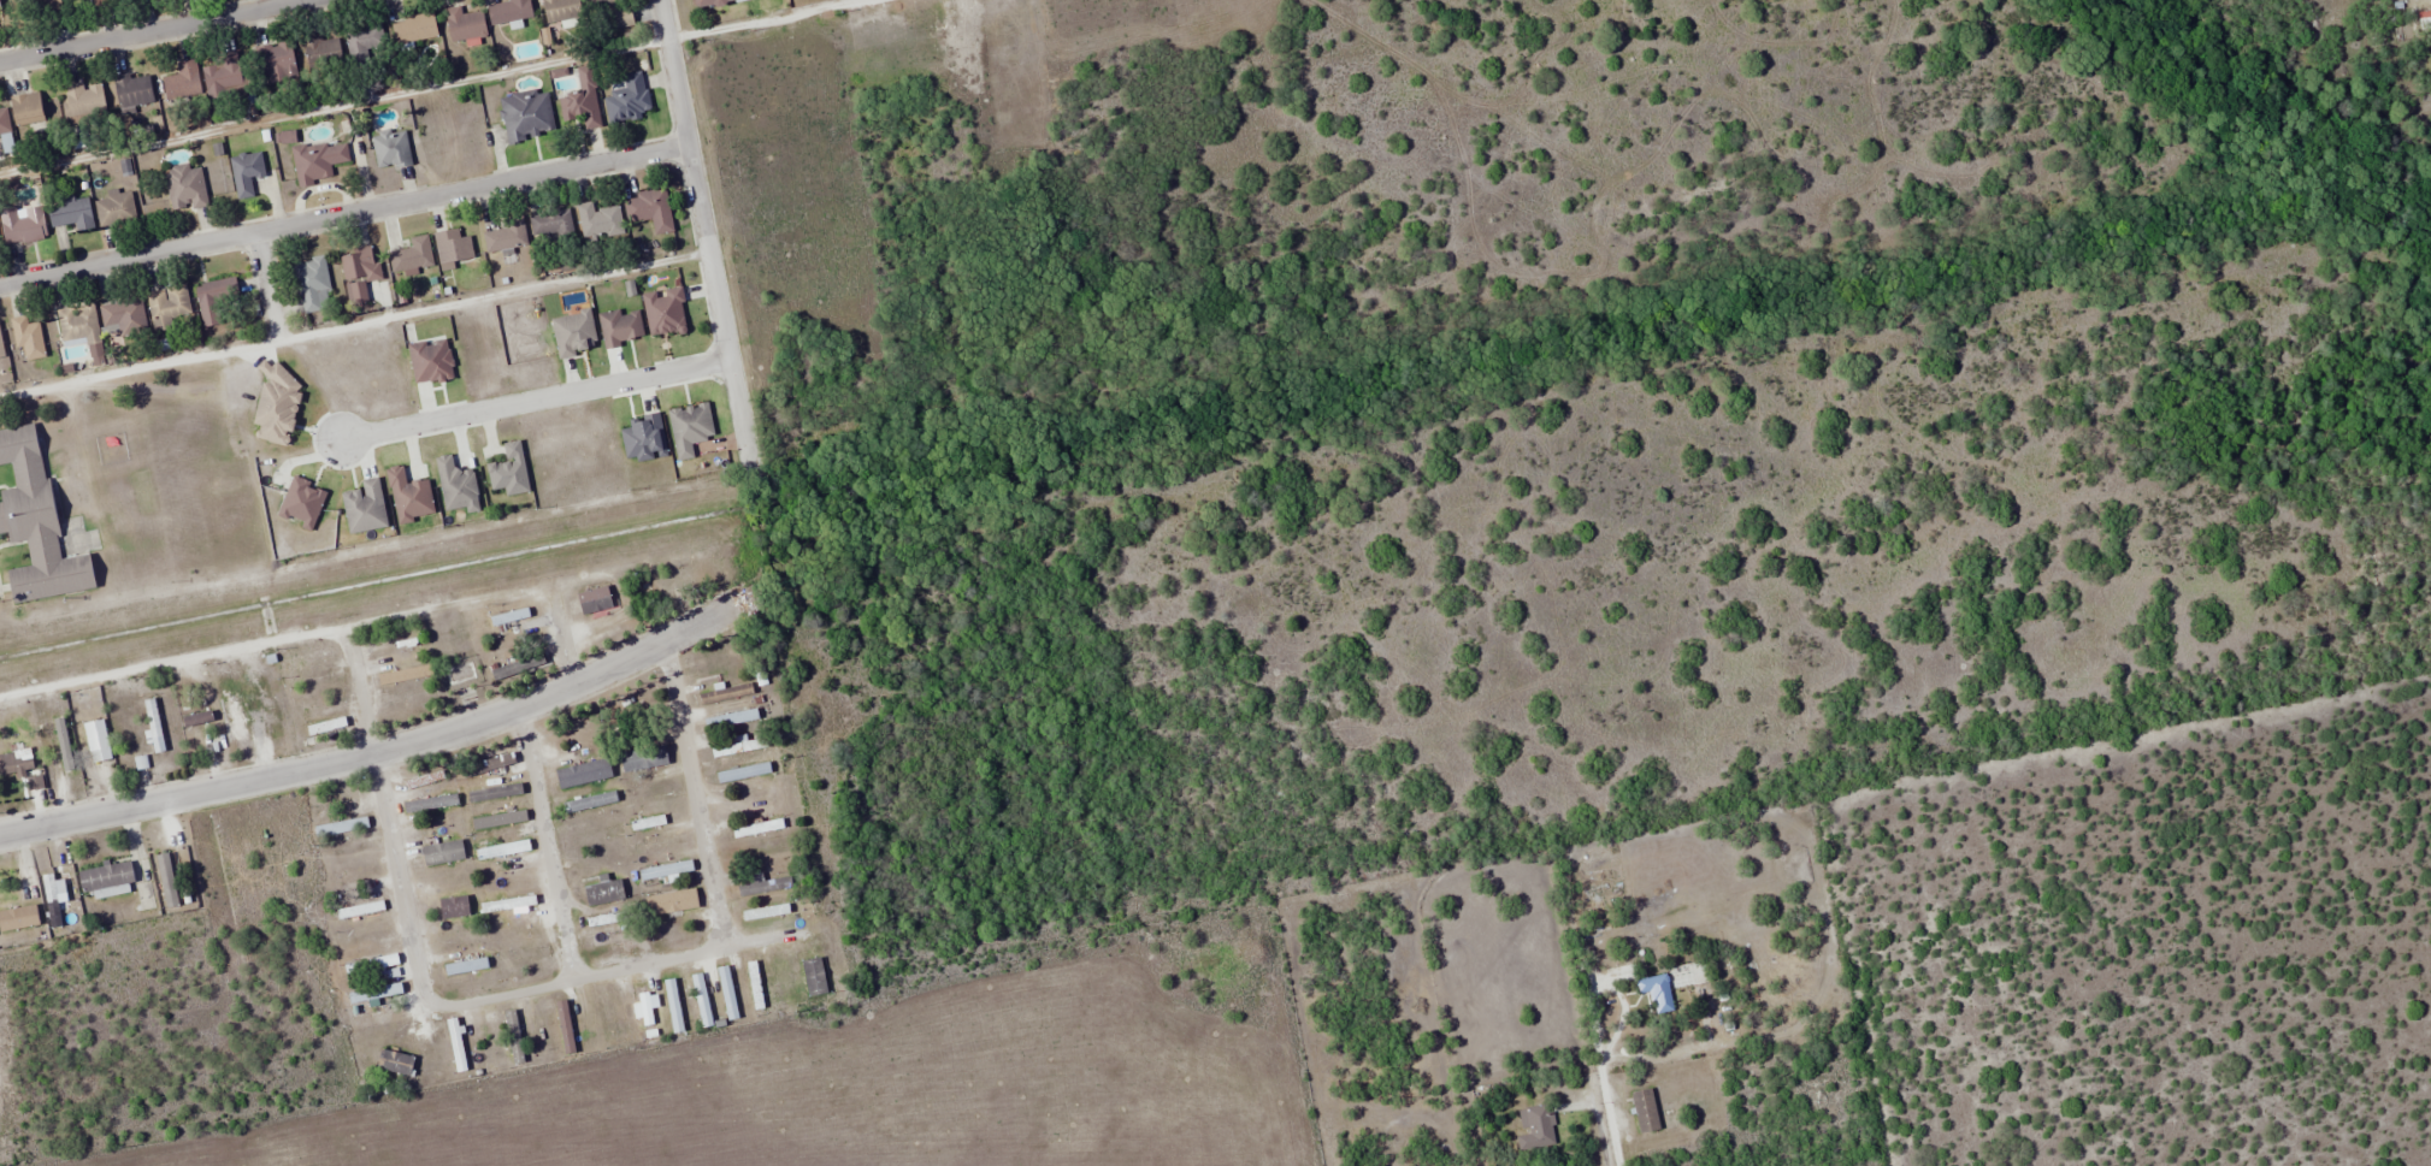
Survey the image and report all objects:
building: (118, 0)
building: (100, 2)
road: (284, 2)
building: (713, 2)
building: (47, 8)
building: (561, 10)
building: (508, 11)
building: (613, 17)
building: (464, 24)
building: (414, 29)
road: (154, 30)
building: (362, 43)
building: (323, 53)
building: (276, 63)
building: (220, 78)
building: (183, 82)
building: (132, 91)
building: (582, 100)
building: (629, 100)
building: (83, 103)
building: (26, 108)
building: (526, 116)
building: (4, 120)
building: (391, 148)
building: (318, 161)
building: (246, 173)
building: (185, 188)
building: (116, 208)
road: (343, 209)
building: (650, 209)
building: (72, 214)
building: (598, 221)
building: (23, 224)
building: (551, 224)
road: (703, 230)
building: (506, 237)
building: (453, 248)
building: (412, 256)
building: (356, 264)
road: (262, 278)
building: (312, 285)
building: (214, 300)
building: (169, 307)
building: (665, 312)
building: (123, 319)
building: (78, 324)
building: (28, 338)
building: (1, 349)
road: (533, 399)
building: (302, 503)
building: (36, 525)
building: (668, 580)
building: (594, 599)
building: (509, 615)
road: (564, 639)
building: (315, 659)
building: (407, 674)
building: (318, 691)
building: (725, 693)
building: (409, 700)
building: (270, 714)
building: (199, 717)
building: (731, 718)
building: (153, 724)
building: (60, 744)
building: (95, 747)
road: (388, 750)
building: (644, 758)
building: (16, 762)
building: (489, 763)
building: (583, 773)
building: (743, 773)
building: (33, 782)
building: (495, 793)
road: (694, 794)
building: (590, 801)
building: (430, 804)
building: (497, 819)
building: (341, 827)
building: (756, 828)
building: (435, 830)
building: (596, 834)
road: (545, 842)
building: (665, 842)
building: (503, 850)
building: (666, 869)
building: (107, 877)
building: (762, 886)
building: (165, 888)
building: (603, 892)
building: (53, 898)
building: (672, 901)
building: (508, 904)
building: (454, 907)
building: (360, 908)
building: (769, 911)
building: (19, 918)
building: (366, 936)
building: (627, 939)
building: (371, 964)
building: (814, 976)
building: (783, 982)
building: (374, 992)
building: (1656, 992)
building: (727, 993)
building: (702, 1000)
road: (430, 1004)
building: (673, 1005)
building: (645, 1008)
building: (619, 1016)
road: (1619, 1016)
building: (382, 1018)
building: (565, 1026)
building: (456, 1044)
building: (488, 1046)
road: (1680, 1055)
road: (1601, 1067)
building: (1646, 1111)
road: (1594, 1115)
building: (1535, 1127)

